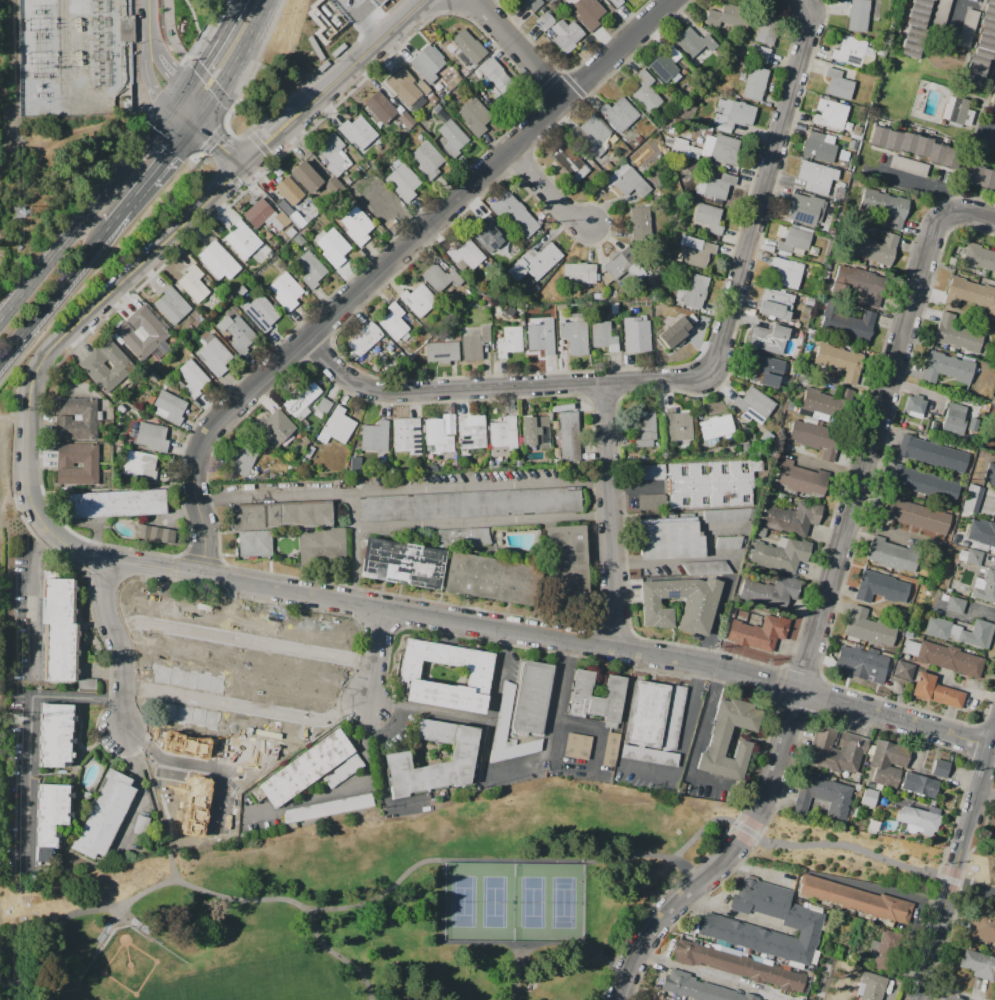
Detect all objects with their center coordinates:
building: (377, 2)
gas station: (377, 2)
road: (357, 3)
building: (615, 3)
building: (533, 4)
building: (587, 13)
building: (858, 15)
building: (729, 18)
road: (955, 18)
road: (366, 21)
building: (545, 21)
building: (914, 28)
building: (768, 31)
road: (252, 35)
building: (565, 36)
building: (696, 44)
building: (468, 46)
building: (982, 47)
road: (521, 48)
building: (849, 51)
power substation: (78, 53)
building: (758, 54)
road: (366, 56)
road: (147, 57)
road: (207, 57)
building: (426, 63)
building: (665, 64)
flagpole: (499, 65)
building: (494, 74)
building: (457, 78)
building: (838, 84)
building: (757, 85)
building: (406, 86)
building: (644, 92)
building: (993, 97)
building: (432, 99)
road: (213, 100)
building: (380, 107)
traffic signals: (171, 111)
building: (439, 111)
building: (960, 111)
building: (618, 114)
building: (830, 114)
building: (743, 115)
building: (475, 116)
building: (405, 119)
road: (182, 120)
traffic signals: (194, 129)
building: (357, 132)
building: (585, 134)
road: (271, 138)
building: (453, 138)
building: (679, 145)
road: (218, 146)
building: (818, 147)
building: (912, 147)
building: (727, 151)
building: (331, 153)
road: (172, 155)
building: (427, 160)
building: (570, 161)
building: (306, 176)
building: (817, 176)
building: (979, 177)
building: (402, 180)
building: (630, 183)
road: (921, 183)
building: (718, 188)
road: (549, 189)
building: (289, 190)
building: (378, 202)
road: (131, 206)
building: (886, 207)
building: (805, 209)
building: (314, 210)
road: (974, 211)
power tower: (18, 212)
building: (515, 214)
building: (264, 215)
road: (85, 217)
building: (297, 220)
building: (710, 221)
building: (641, 222)
building: (356, 226)
road: (428, 226)
building: (290, 232)
building: (489, 233)
building: (242, 239)
building: (795, 239)
building: (298, 240)
building: (332, 246)
building: (873, 248)
building: (466, 254)
building: (700, 255)
building: (980, 258)
building: (537, 260)
building: (217, 261)
building: (620, 261)
road: (139, 265)
building: (310, 269)
building: (578, 272)
building: (787, 272)
building: (440, 277)
building: (859, 283)
building: (193, 284)
building: (695, 287)
building: (286, 291)
building: (969, 296)
road: (56, 298)
building: (418, 300)
building: (776, 304)
building: (171, 305)
building: (260, 312)
building: (393, 322)
building: (846, 323)
building: (675, 331)
building: (236, 332)
building: (143, 333)
building: (636, 334)
building: (507, 335)
building: (957, 335)
building: (574, 336)
building: (602, 336)
building: (768, 338)
building: (363, 339)
building: (539, 340)
building: (474, 342)
building: (442, 351)
building: (214, 355)
building: (839, 360)
building: (91, 365)
building: (948, 370)
building: (775, 372)
building: (192, 377)
road: (694, 377)
building: (300, 398)
building: (827, 402)
building: (754, 405)
building: (323, 406)
building: (916, 407)
building: (171, 408)
road: (14, 416)
building: (76, 419)
building: (956, 421)
building: (677, 424)
building: (336, 427)
building: (644, 427)
building: (715, 427)
building: (273, 428)
building: (313, 430)
building: (535, 432)
building: (503, 433)
building: (470, 434)
building: (406, 435)
building: (153, 436)
building: (437, 436)
building: (569, 436)
building: (374, 437)
building: (816, 438)
building: (303, 442)
building: (309, 452)
building: (930, 454)
building: (241, 458)
building: (749, 464)
building: (64, 465)
building: (140, 465)
road: (832, 468)
building: (990, 475)
road: (26, 477)
building: (801, 478)
building: (923, 482)
building: (696, 484)
road: (402, 489)
building: (971, 497)
parking lot: (437, 500)
building: (116, 503)
building: (469, 505)
road: (990, 505)
road: (353, 510)
road: (610, 514)
building: (725, 514)
building: (279, 515)
building: (916, 516)
road: (201, 517)
building: (790, 517)
road: (481, 522)
building: (154, 533)
building: (983, 534)
building: (467, 538)
building: (670, 540)
building: (728, 542)
building: (255, 543)
building: (322, 546)
building: (778, 554)
building: (894, 556)
building: (976, 558)
road: (110, 559)
road: (152, 562)
road: (643, 563)
road: (354, 565)
building: (401, 566)
building: (706, 567)
building: (565, 568)
road: (150, 570)
building: (491, 581)
building: (882, 589)
building: (987, 589)
building: (769, 592)
road: (33, 600)
building: (699, 603)
building: (958, 606)
road: (985, 615)
building: (187, 619)
road: (818, 620)
building: (871, 629)
building: (939, 630)
building: (58, 632)
building: (758, 632)
road: (562, 636)
building: (978, 637)
road: (118, 639)
building: (305, 639)
road: (378, 657)
building: (951, 660)
building: (862, 666)
road: (324, 669)
building: (905, 671)
building: (445, 675)
building: (85, 682)
building: (937, 692)
building: (186, 693)
building: (531, 697)
building: (595, 698)
road: (558, 699)
road: (332, 706)
road: (429, 711)
parking lot: (505, 711)
building: (646, 713)
parking lot: (674, 718)
power tower: (16, 719)
building: (269, 723)
road: (703, 723)
road: (594, 731)
road: (30, 732)
road: (993, 734)
building: (55, 736)
road: (969, 736)
building: (728, 740)
building: (576, 745)
building: (512, 746)
parking lot: (577, 746)
building: (609, 748)
parking lot: (610, 749)
building: (837, 752)
road: (484, 753)
parking lot: (648, 755)
building: (395, 758)
building: (888, 766)
building: (311, 768)
building: (942, 771)
building: (921, 786)
road: (343, 788)
road: (985, 792)
building: (199, 793)
building: (824, 795)
road: (151, 796)
building: (866, 798)
parking lot: (329, 808)
building: (52, 813)
building: (102, 814)
building: (921, 823)
park: (848, 854)
road: (589, 862)
road: (954, 870)
building: (854, 899)
park: (373, 902)
park: (469, 904)
park: (500, 904)
park: (538, 904)
park: (569, 904)
road: (77, 914)
road: (734, 914)
building: (800, 922)
building: (983, 927)
road: (517, 944)
building: (882, 950)
road: (342, 954)
road: (610, 960)
building: (732, 965)
building: (979, 966)
park: (131, 969)
road: (523, 972)
building: (835, 976)
road: (712, 977)
road: (3, 984)
building: (870, 987)
building: (695, 988)
park: (179, 992)
road: (926, 999)

